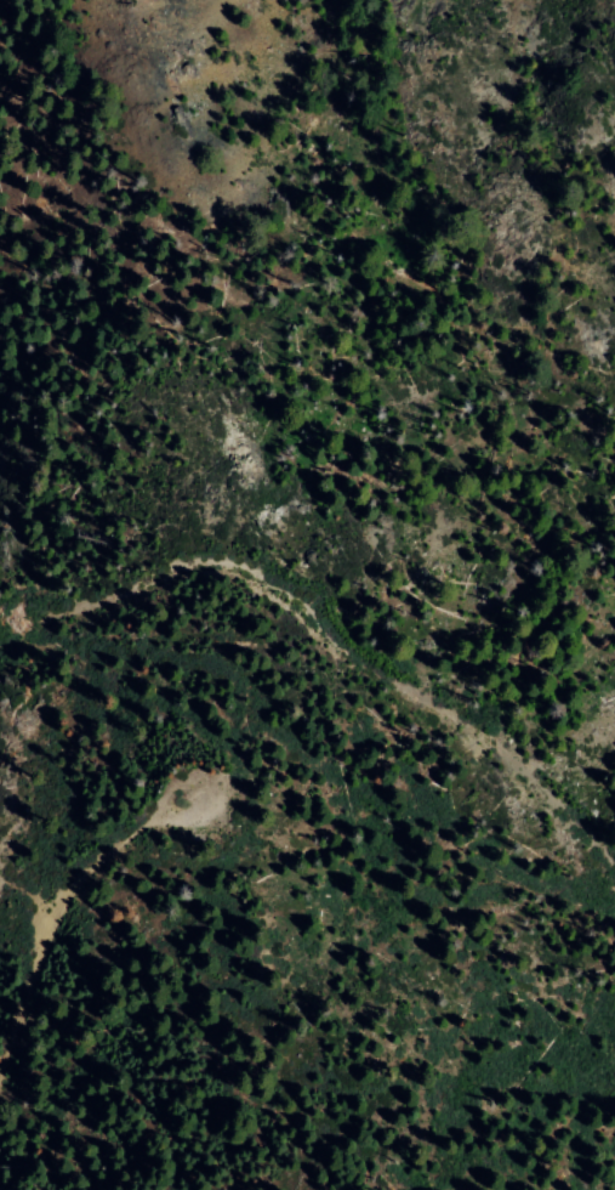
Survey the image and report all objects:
road: (56, 916)

